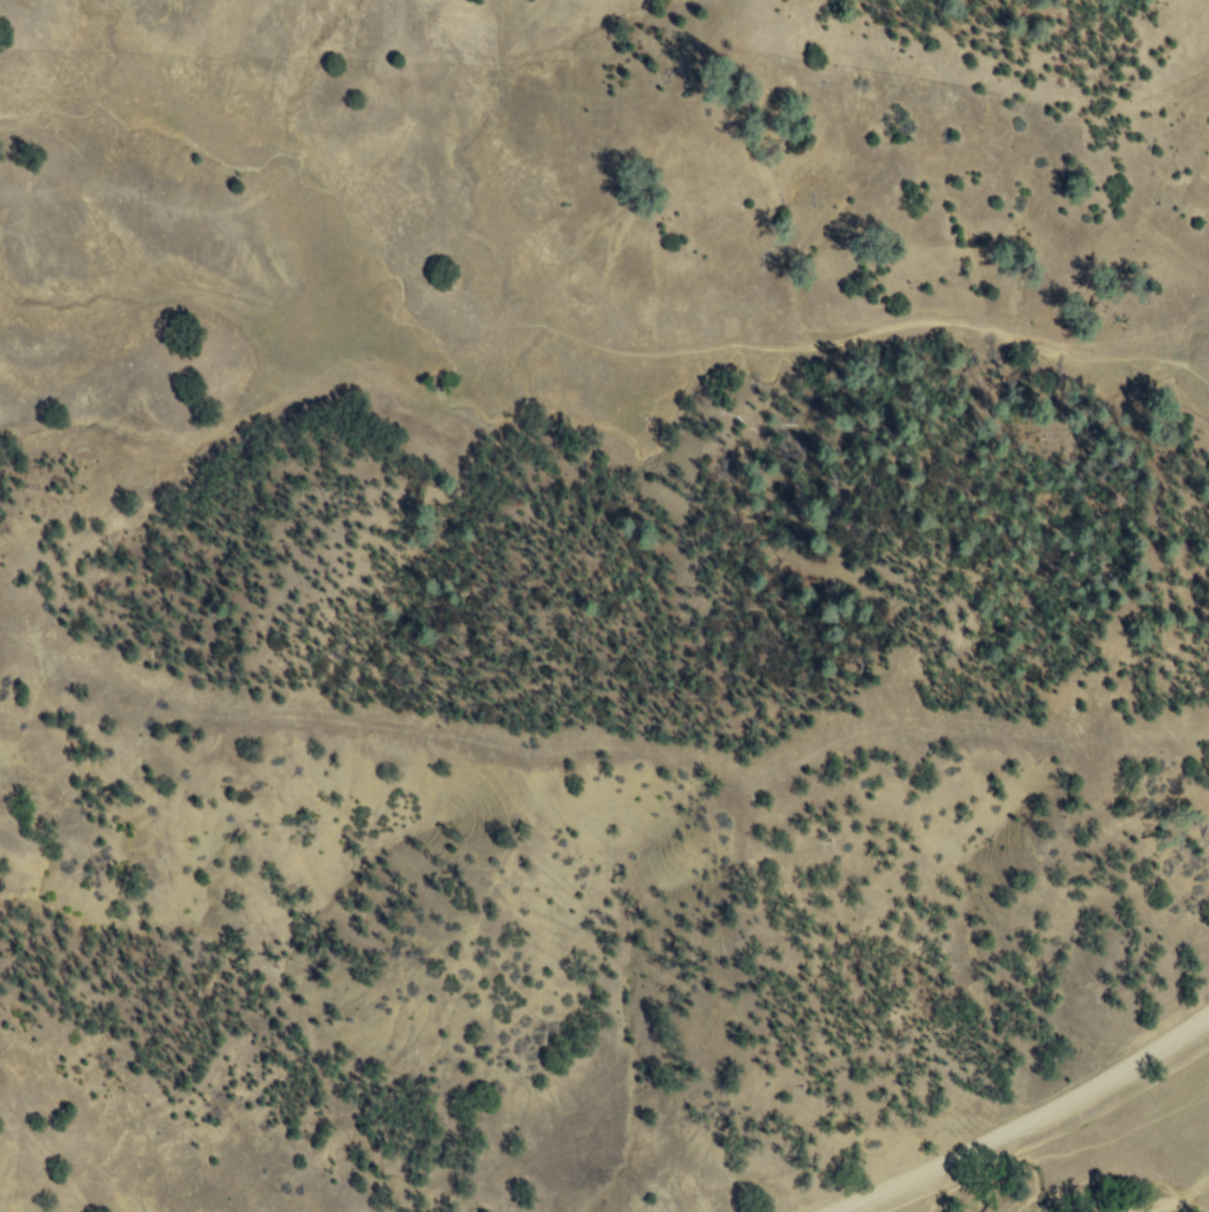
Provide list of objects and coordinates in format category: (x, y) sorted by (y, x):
road: (1031, 1127)

